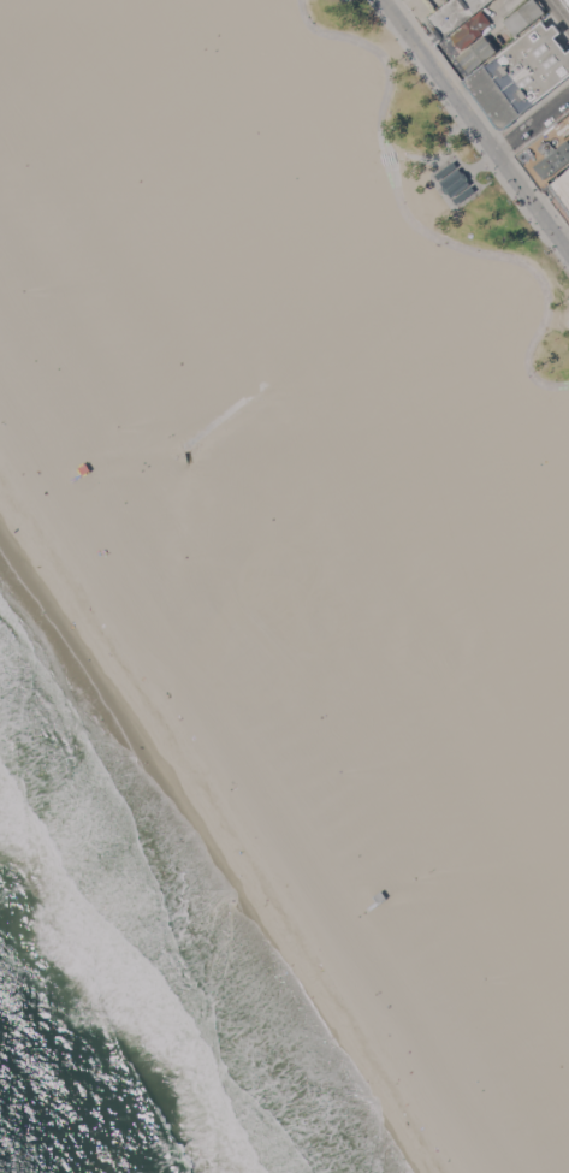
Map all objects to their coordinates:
building: (567, 1)
road: (559, 11)
building: (455, 14)
building: (523, 16)
building: (472, 29)
building: (478, 53)
building: (521, 76)
road: (475, 123)
road: (534, 125)
road: (443, 153)
building: (549, 153)
road: (381, 159)
road: (485, 164)
building: (445, 170)
building: (455, 182)
building: (561, 192)
building: (463, 194)
road: (413, 224)
building: (73, 472)
building: (384, 919)

